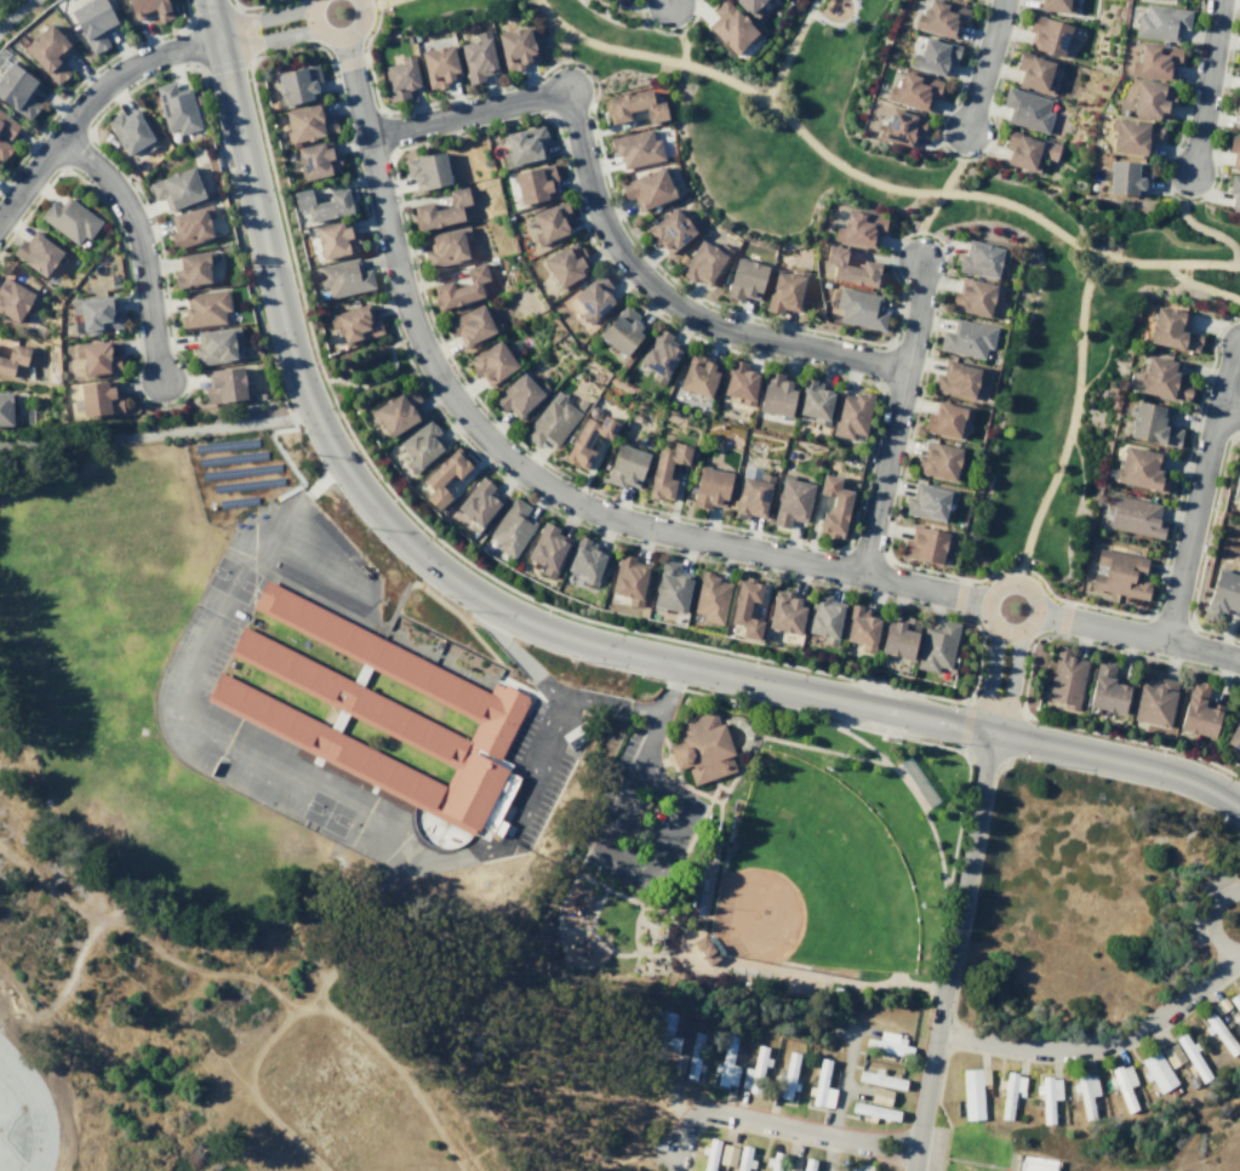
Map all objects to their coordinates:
road: (382, 1)
road: (668, 1)
park: (7, 5)
road: (253, 5)
building: (1055, 5)
building: (150, 7)
building: (749, 7)
road: (13, 11)
road: (550, 16)
building: (939, 17)
road: (979, 17)
road: (261, 18)
road: (692, 18)
building: (1159, 21)
building: (92, 22)
road: (836, 23)
road: (650, 25)
building: (730, 27)
building: (1045, 34)
road: (265, 39)
road: (336, 39)
road: (188, 47)
building: (515, 47)
road: (607, 47)
road: (364, 48)
building: (48, 52)
building: (932, 55)
road: (245, 56)
building: (478, 57)
building: (1153, 59)
road: (248, 62)
road: (347, 62)
road: (983, 64)
building: (440, 65)
building: (1236, 65)
road: (708, 70)
building: (1033, 70)
road: (592, 76)
building: (400, 78)
road: (998, 81)
building: (299, 84)
road: (1205, 85)
building: (17, 90)
building: (913, 90)
road: (469, 92)
building: (1149, 98)
road: (87, 99)
road: (255, 99)
road: (949, 103)
building: (635, 107)
building: (175, 108)
building: (1025, 109)
building: (1236, 110)
road: (467, 112)
building: (308, 124)
building: (899, 125)
building: (6, 126)
road: (798, 128)
building: (131, 131)
building: (1131, 136)
building: (524, 145)
building: (636, 147)
building: (4, 149)
building: (1025, 150)
building: (1234, 150)
road: (967, 158)
road: (371, 159)
building: (318, 160)
building: (428, 170)
road: (949, 175)
road: (1160, 175)
building: (1125, 176)
building: (535, 183)
building: (177, 188)
building: (648, 188)
road: (1211, 188)
building: (1234, 193)
road: (987, 196)
building: (324, 204)
building: (440, 210)
road: (233, 216)
building: (69, 219)
building: (552, 222)
building: (190, 225)
building: (859, 228)
park: (910, 228)
building: (670, 229)
road: (1208, 230)
building: (336, 239)
road: (139, 242)
building: (446, 246)
building: (39, 252)
building: (983, 258)
building: (704, 262)
building: (566, 263)
building: (193, 268)
building: (852, 268)
building: (343, 276)
building: (745, 279)
building: (113, 281)
road: (1200, 285)
building: (459, 287)
building: (785, 290)
building: (973, 296)
building: (595, 297)
building: (12, 298)
road: (668, 305)
building: (204, 307)
building: (859, 308)
building: (96, 313)
road: (915, 314)
building: (355, 324)
building: (472, 324)
building: (1171, 329)
building: (624, 330)
building: (966, 338)
road: (1079, 339)
building: (216, 344)
building: (661, 355)
building: (12, 358)
building: (97, 359)
building: (492, 362)
park: (364, 371)
building: (698, 375)
building: (959, 378)
building: (1160, 378)
road: (376, 379)
building: (739, 382)
building: (224, 384)
building: (777, 394)
building: (520, 395)
building: (99, 398)
building: (815, 400)
building: (579, 404)
building: (6, 410)
building: (398, 411)
road: (1228, 412)
building: (851, 413)
building: (947, 418)
building: (550, 421)
building: (1149, 423)
road: (156, 432)
building: (588, 439)
building: (421, 444)
building: (939, 459)
building: (627, 465)
building: (1139, 468)
building: (665, 469)
road: (882, 470)
building: (445, 475)
building: (1235, 479)
building: (710, 487)
road: (1199, 491)
building: (750, 492)
road: (304, 497)
building: (793, 501)
building: (928, 501)
building: (479, 503)
building: (834, 505)
building: (1132, 515)
road: (634, 522)
building: (512, 527)
building: (925, 544)
building: (549, 548)
parking lot: (303, 555)
road: (313, 558)
building: (587, 560)
building: (1118, 572)
road: (959, 576)
building: (629, 577)
building: (672, 587)
building: (1222, 594)
road: (958, 595)
building: (710, 596)
road: (1072, 601)
building: (747, 606)
building: (787, 611)
building: (824, 617)
road: (530, 623)
road: (211, 627)
building: (862, 627)
road: (1139, 634)
building: (901, 636)
road: (1013, 638)
building: (937, 645)
building: (1063, 678)
road: (1024, 681)
road: (989, 682)
road: (549, 685)
road: (1008, 686)
building: (1103, 686)
road: (670, 690)
road: (967, 698)
building: (1152, 699)
road: (971, 702)
parking lot: (188, 709)
building: (1195, 710)
building: (379, 713)
building: (1234, 732)
road: (936, 744)
road: (647, 746)
building: (701, 747)
road: (828, 750)
road: (981, 756)
road: (744, 759)
road: (542, 771)
road: (681, 784)
road: (908, 788)
road: (680, 798)
road: (345, 804)
parking lot: (635, 821)
road: (716, 822)
road: (4, 849)
park: (755, 858)
road: (581, 861)
park: (808, 876)
road: (589, 880)
road: (972, 887)
road: (663, 909)
road: (558, 913)
road: (1208, 920)
road: (96, 921)
road: (590, 921)
road: (633, 927)
building: (705, 948)
road: (949, 952)
road: (684, 961)
road: (719, 961)
road: (825, 977)
street lamp: (6, 988)
building: (1234, 1001)
building: (1222, 1003)
building: (1216, 1007)
road: (13, 1017)
building: (663, 1032)
road: (948, 1033)
building: (1218, 1033)
building: (887, 1043)
road: (1098, 1043)
building: (1171, 1055)
building: (695, 1056)
building: (1192, 1056)
road: (1044, 1061)
building: (726, 1062)
building: (675, 1063)
building: (754, 1069)
building: (1156, 1070)
building: (787, 1078)
building: (880, 1078)
road: (841, 1081)
building: (1122, 1085)
building: (821, 1086)
building: (972, 1091)
building: (1008, 1092)
building: (1085, 1092)
building: (879, 1095)
building: (1047, 1096)
building: (873, 1110)
track: (21, 1114)
road: (772, 1123)
park: (12, 1126)
road: (776, 1136)
parking lot: (935, 1147)
building: (708, 1153)
road: (830, 1153)
building: (726, 1154)
building: (742, 1158)
building: (772, 1160)
building: (789, 1164)
building: (806, 1164)
building: (1034, 1164)
building: (856, 1167)

